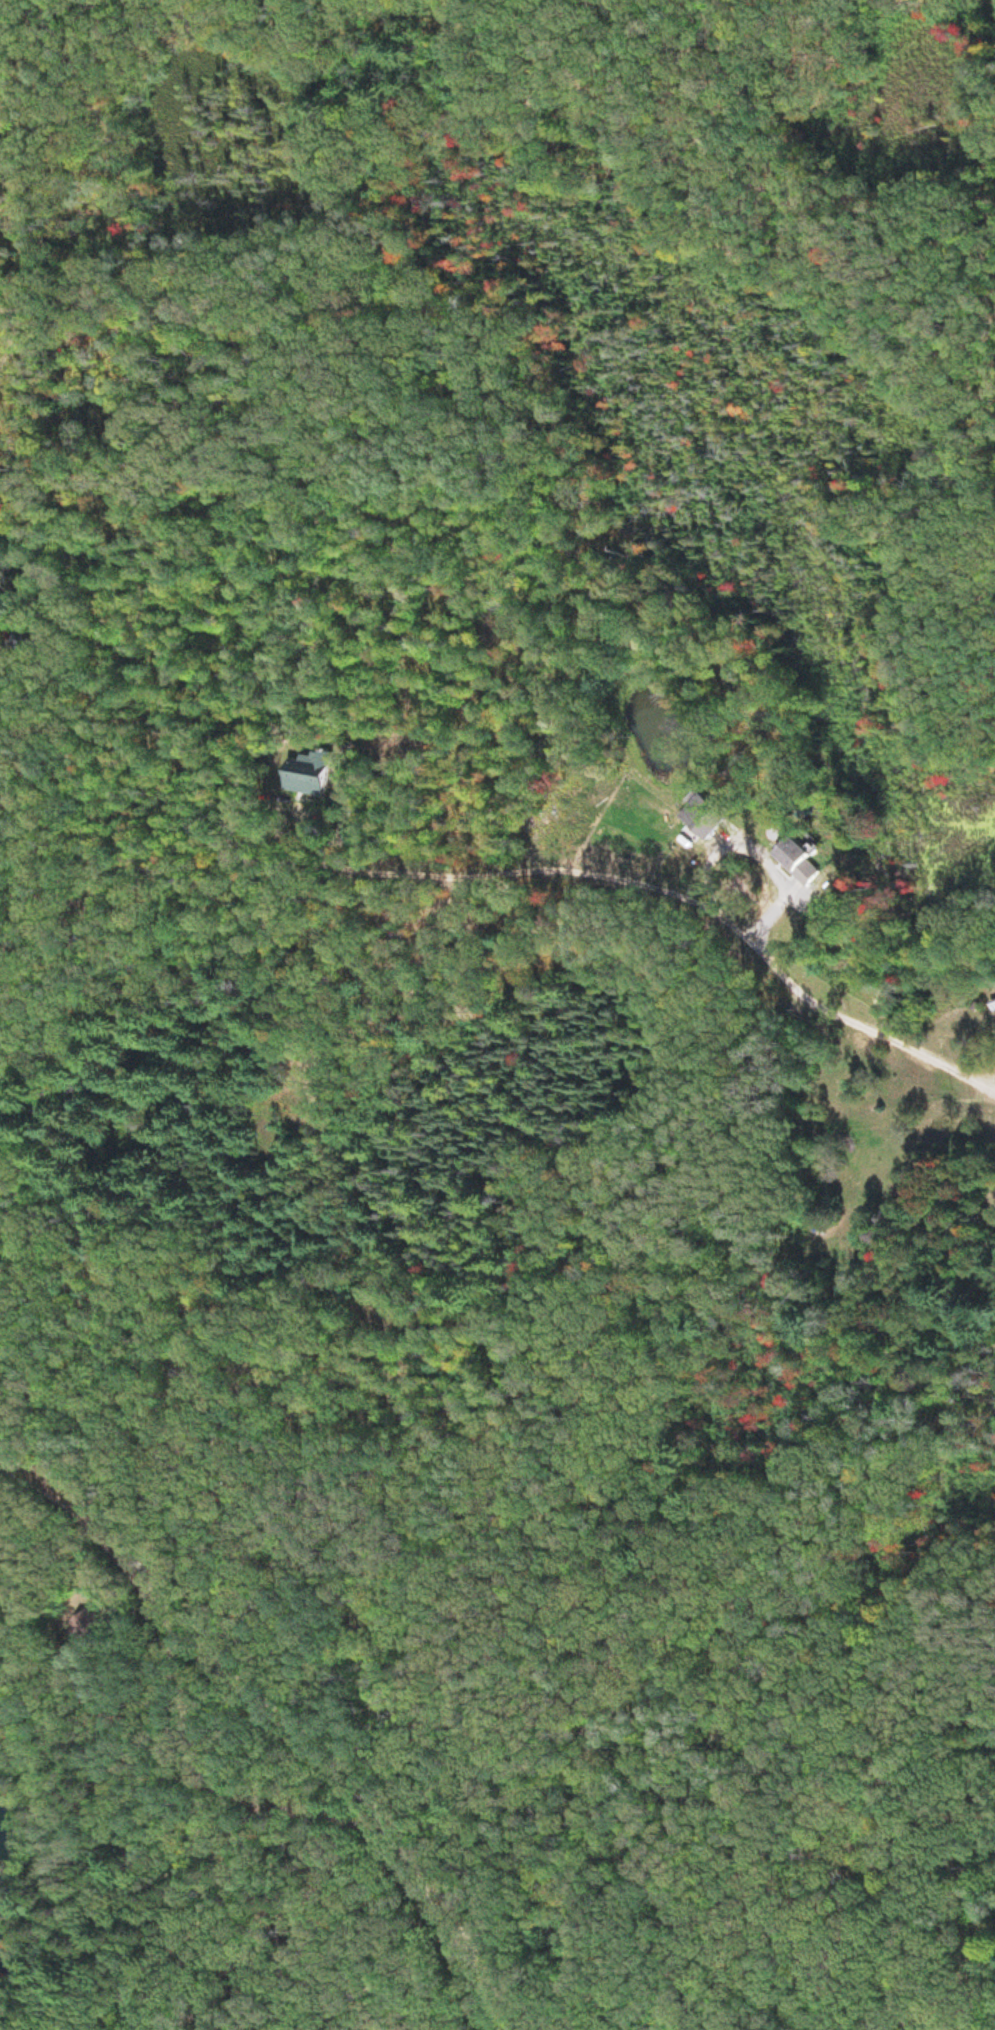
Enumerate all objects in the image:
building: (317, 779)
building: (702, 839)
building: (811, 854)
road: (904, 1022)
road: (273, 1729)
road: (223, 1880)
road: (795, 1923)

